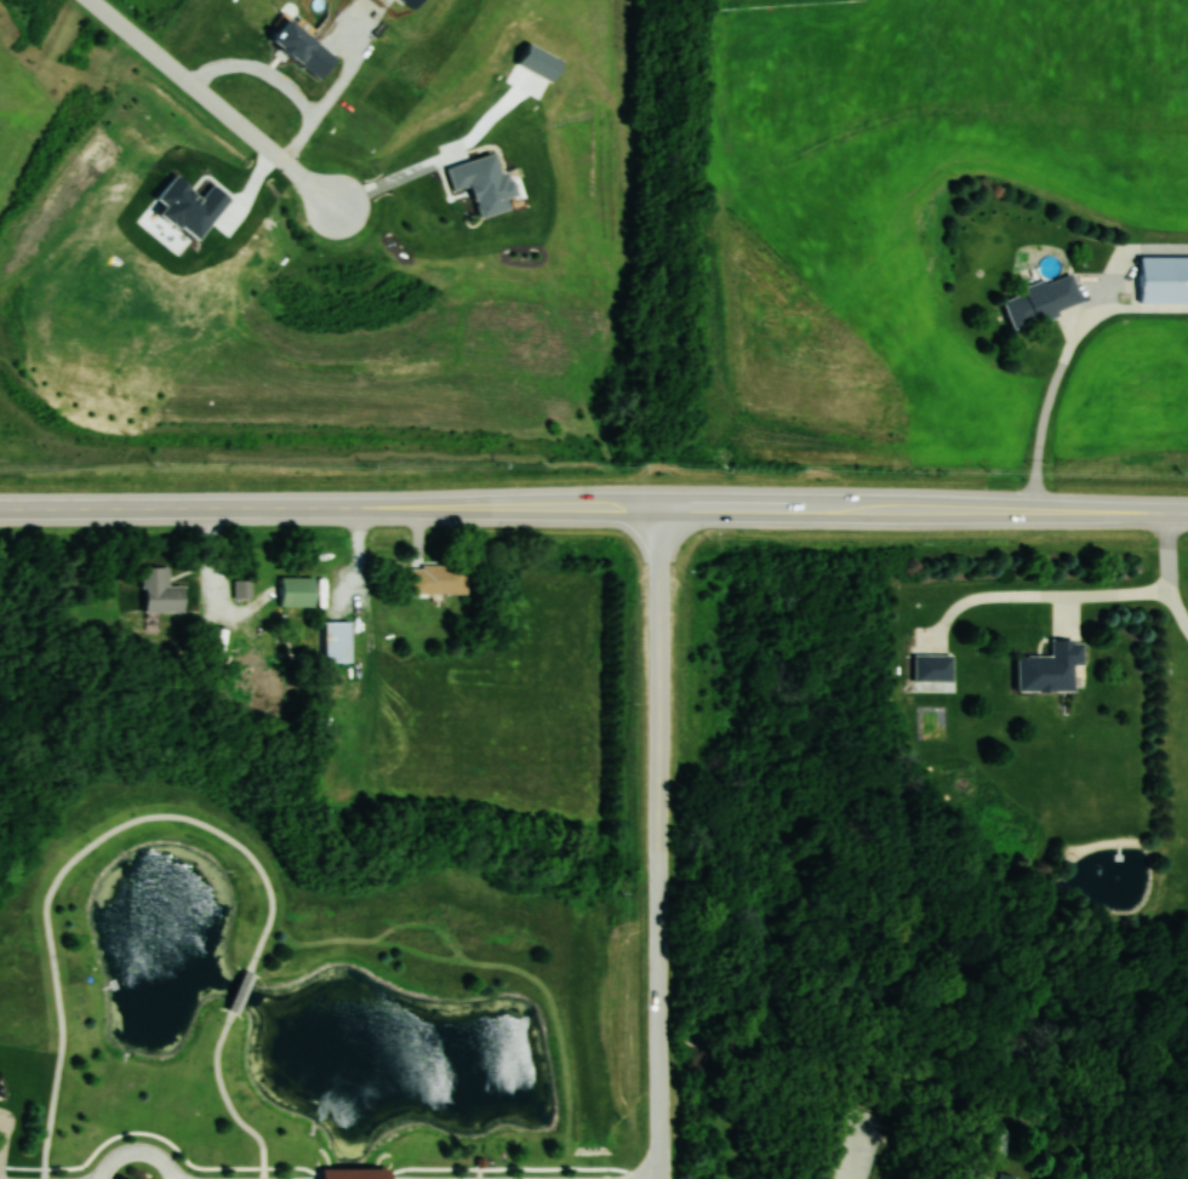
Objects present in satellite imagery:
road: (282, 81)
road: (216, 104)
road: (400, 178)
building: (1164, 279)
building: (1041, 301)
road: (1050, 400)
road: (347, 509)
road: (941, 509)
road: (1170, 571)
building: (439, 578)
building: (242, 586)
building: (160, 590)
building: (297, 590)
road: (1107, 596)
building: (337, 640)
building: (932, 666)
building: (1050, 666)
building: (255, 673)
road: (659, 842)
road: (73, 860)
road: (241, 991)
road: (227, 1099)
road: (159, 1138)
road: (137, 1150)
road: (518, 1166)
road: (355, 1172)
building: (355, 1173)
building: (1010, 1177)

